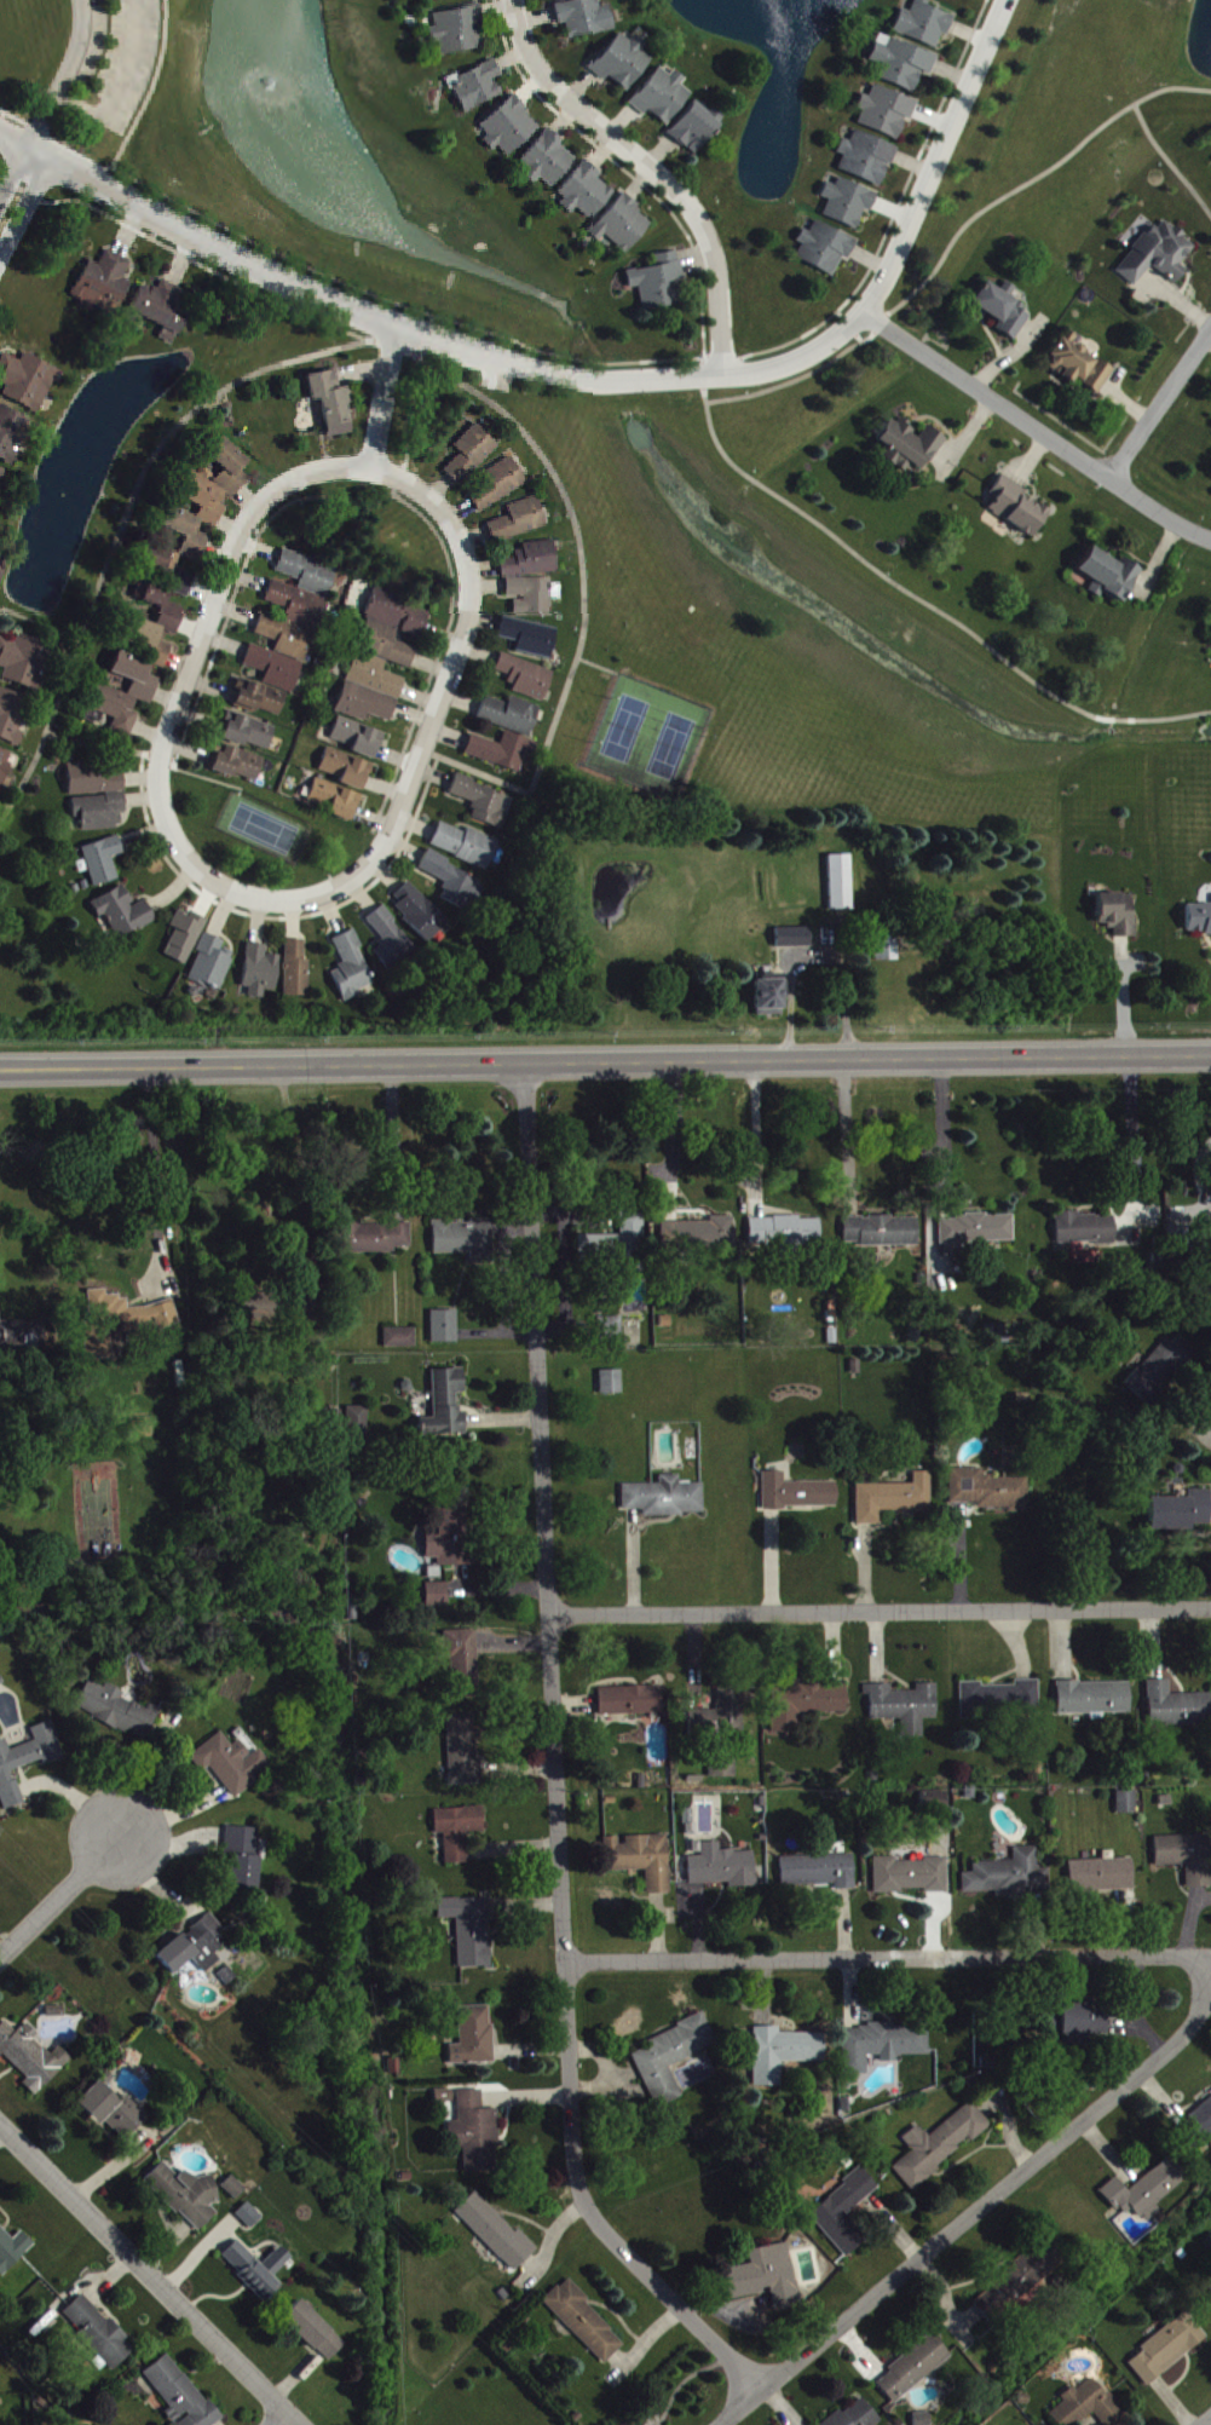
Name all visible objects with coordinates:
building: (586, 22)
building: (923, 27)
building: (460, 35)
parking lot: (85, 40)
parking lot: (127, 61)
building: (623, 64)
building: (901, 67)
road: (65, 77)
road: (120, 85)
road: (151, 87)
building: (479, 91)
building: (663, 99)
building: (886, 115)
building: (512, 132)
building: (694, 132)
road: (940, 159)
road: (1171, 160)
building: (866, 161)
building: (548, 165)
road: (653, 172)
road: (13, 174)
building: (587, 197)
building: (848, 206)
road: (25, 212)
building: (622, 230)
road: (196, 240)
road: (957, 243)
building: (825, 250)
building: (1158, 258)
building: (661, 286)
building: (106, 289)
building: (162, 313)
building: (1002, 313)
building: (1078, 368)
road: (639, 380)
building: (29, 385)
building: (334, 407)
road: (1161, 407)
road: (1037, 431)
building: (13, 439)
building: (910, 448)
building: (472, 459)
building: (232, 471)
building: (2, 480)
building: (498, 491)
building: (206, 503)
road: (264, 506)
building: (1015, 509)
road: (132, 519)
building: (520, 525)
building: (189, 537)
building: (162, 565)
building: (534, 565)
building: (4, 570)
building: (1109, 578)
road: (590, 583)
building: (185, 587)
building: (304, 594)
road: (924, 599)
building: (535, 600)
building: (162, 611)
building: (530, 640)
building: (149, 644)
building: (281, 657)
building: (382, 662)
building: (24, 664)
road: (605, 667)
building: (137, 679)
building: (526, 680)
building: (259, 701)
building: (115, 713)
building: (511, 718)
building: (12, 719)
building: (248, 735)
building: (357, 741)
building: (502, 754)
building: (237, 766)
building: (5, 771)
building: (348, 773)
building: (98, 799)
building: (335, 802)
road: (404, 803)
building: (485, 806)
building: (466, 848)
building: (104, 864)
building: (451, 883)
building: (841, 886)
building: (420, 915)
building: (122, 917)
building: (1118, 917)
building: (1199, 922)
building: (185, 940)
building: (794, 941)
building: (390, 943)
building: (886, 951)
building: (212, 967)
building: (352, 970)
building: (298, 973)
building: (260, 975)
building: (768, 1000)
road: (605, 1060)
road: (947, 1128)
road: (849, 1131)
road: (760, 1135)
road: (1132, 1137)
road: (390, 1139)
road: (675, 1141)
road: (149, 1168)
building: (570, 1226)
building: (785, 1233)
building: (881, 1234)
building: (696, 1238)
building: (375, 1242)
building: (469, 1242)
building: (123, 1327)
building: (445, 1330)
building: (610, 1334)
building: (1, 1335)
building: (402, 1342)
building: (1160, 1372)
building: (612, 1386)
building: (446, 1410)
building: (358, 1424)
building: (990, 1494)
building: (798, 1497)
building: (663, 1502)
building: (894, 1503)
building: (1180, 1515)
building: (451, 1540)
building: (437, 1599)
road: (882, 1615)
building: (463, 1667)
building: (1000, 1701)
building: (1095, 1701)
building: (630, 1704)
building: (805, 1707)
building: (1177, 1710)
building: (905, 1711)
building: (117, 1713)
building: (722, 1716)
building: (463, 1755)
road: (559, 1756)
building: (25, 1764)
building: (232, 1766)
building: (725, 1766)
building: (1128, 1807)
building: (459, 1834)
building: (1187, 1861)
building: (645, 1864)
building: (723, 1871)
building: (819, 1874)
building: (911, 1879)
building: (1009, 1879)
building: (1102, 1879)
road: (60, 1902)
building: (469, 1932)
building: (195, 1951)
road: (890, 1963)
building: (1076, 2024)
building: (474, 2040)
building: (883, 2049)
building: (783, 2057)
building: (31, 2060)
building: (674, 2061)
building: (394, 2070)
building: (113, 2114)
building: (1199, 2126)
building: (940, 2148)
road: (114, 2171)
building: (235, 2191)
building: (1146, 2194)
road: (986, 2198)
building: (186, 2199)
building: (846, 2217)
building: (250, 2219)
building: (497, 2236)
building: (12, 2253)
road: (148, 2274)
building: (252, 2275)
building: (767, 2281)
building: (1017, 2285)
building: (586, 2326)
building: (315, 2335)
building: (99, 2337)
building: (1167, 2352)
building: (912, 2373)
building: (179, 2396)
road: (732, 2404)
building: (1088, 2408)
building: (858, 2417)
road: (275, 2418)
road: (1205, 2419)

